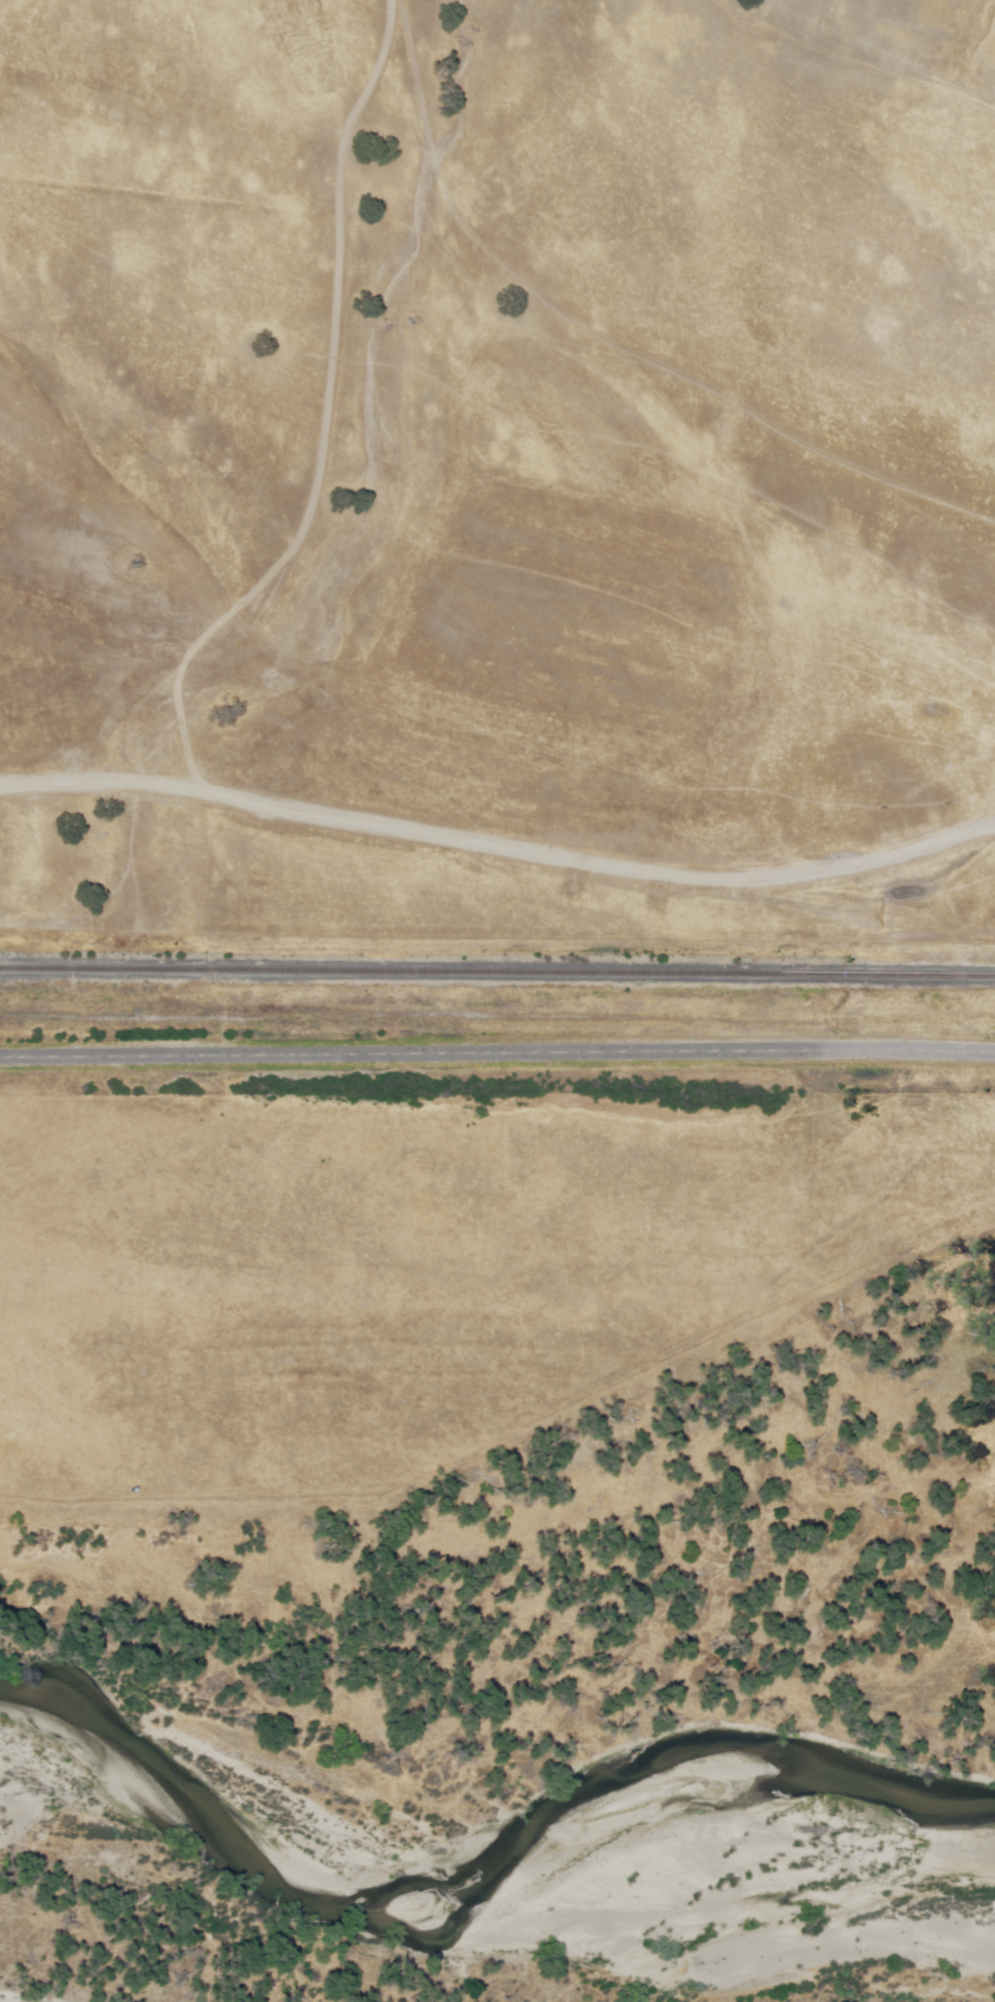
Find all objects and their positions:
road: (955, 12)
road: (298, 538)
road: (499, 845)
railway: (497, 973)
road: (497, 1053)
park: (520, 1408)
river: (129, 1825)
river: (43, 1839)
river: (551, 1913)

